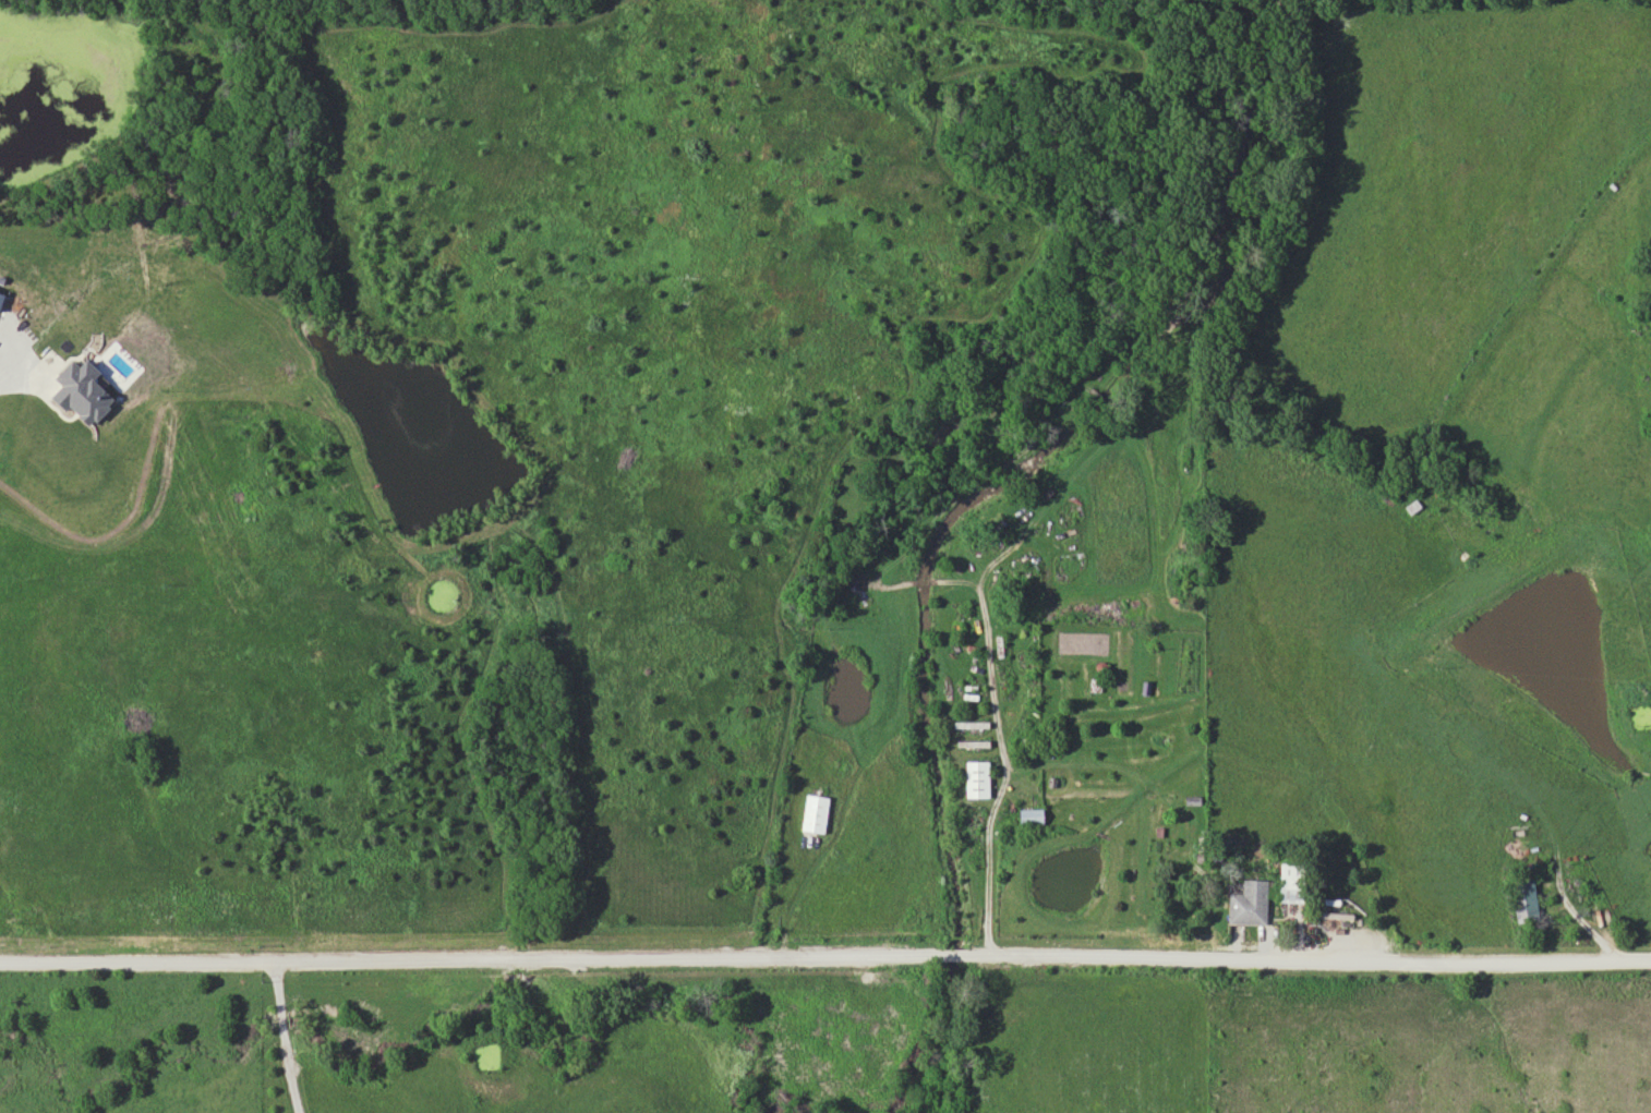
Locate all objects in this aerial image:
building: (977, 778)
building: (815, 813)
building: (1031, 815)
road: (985, 855)
building: (1290, 882)
building: (1523, 900)
building: (1249, 903)
road: (825, 956)

